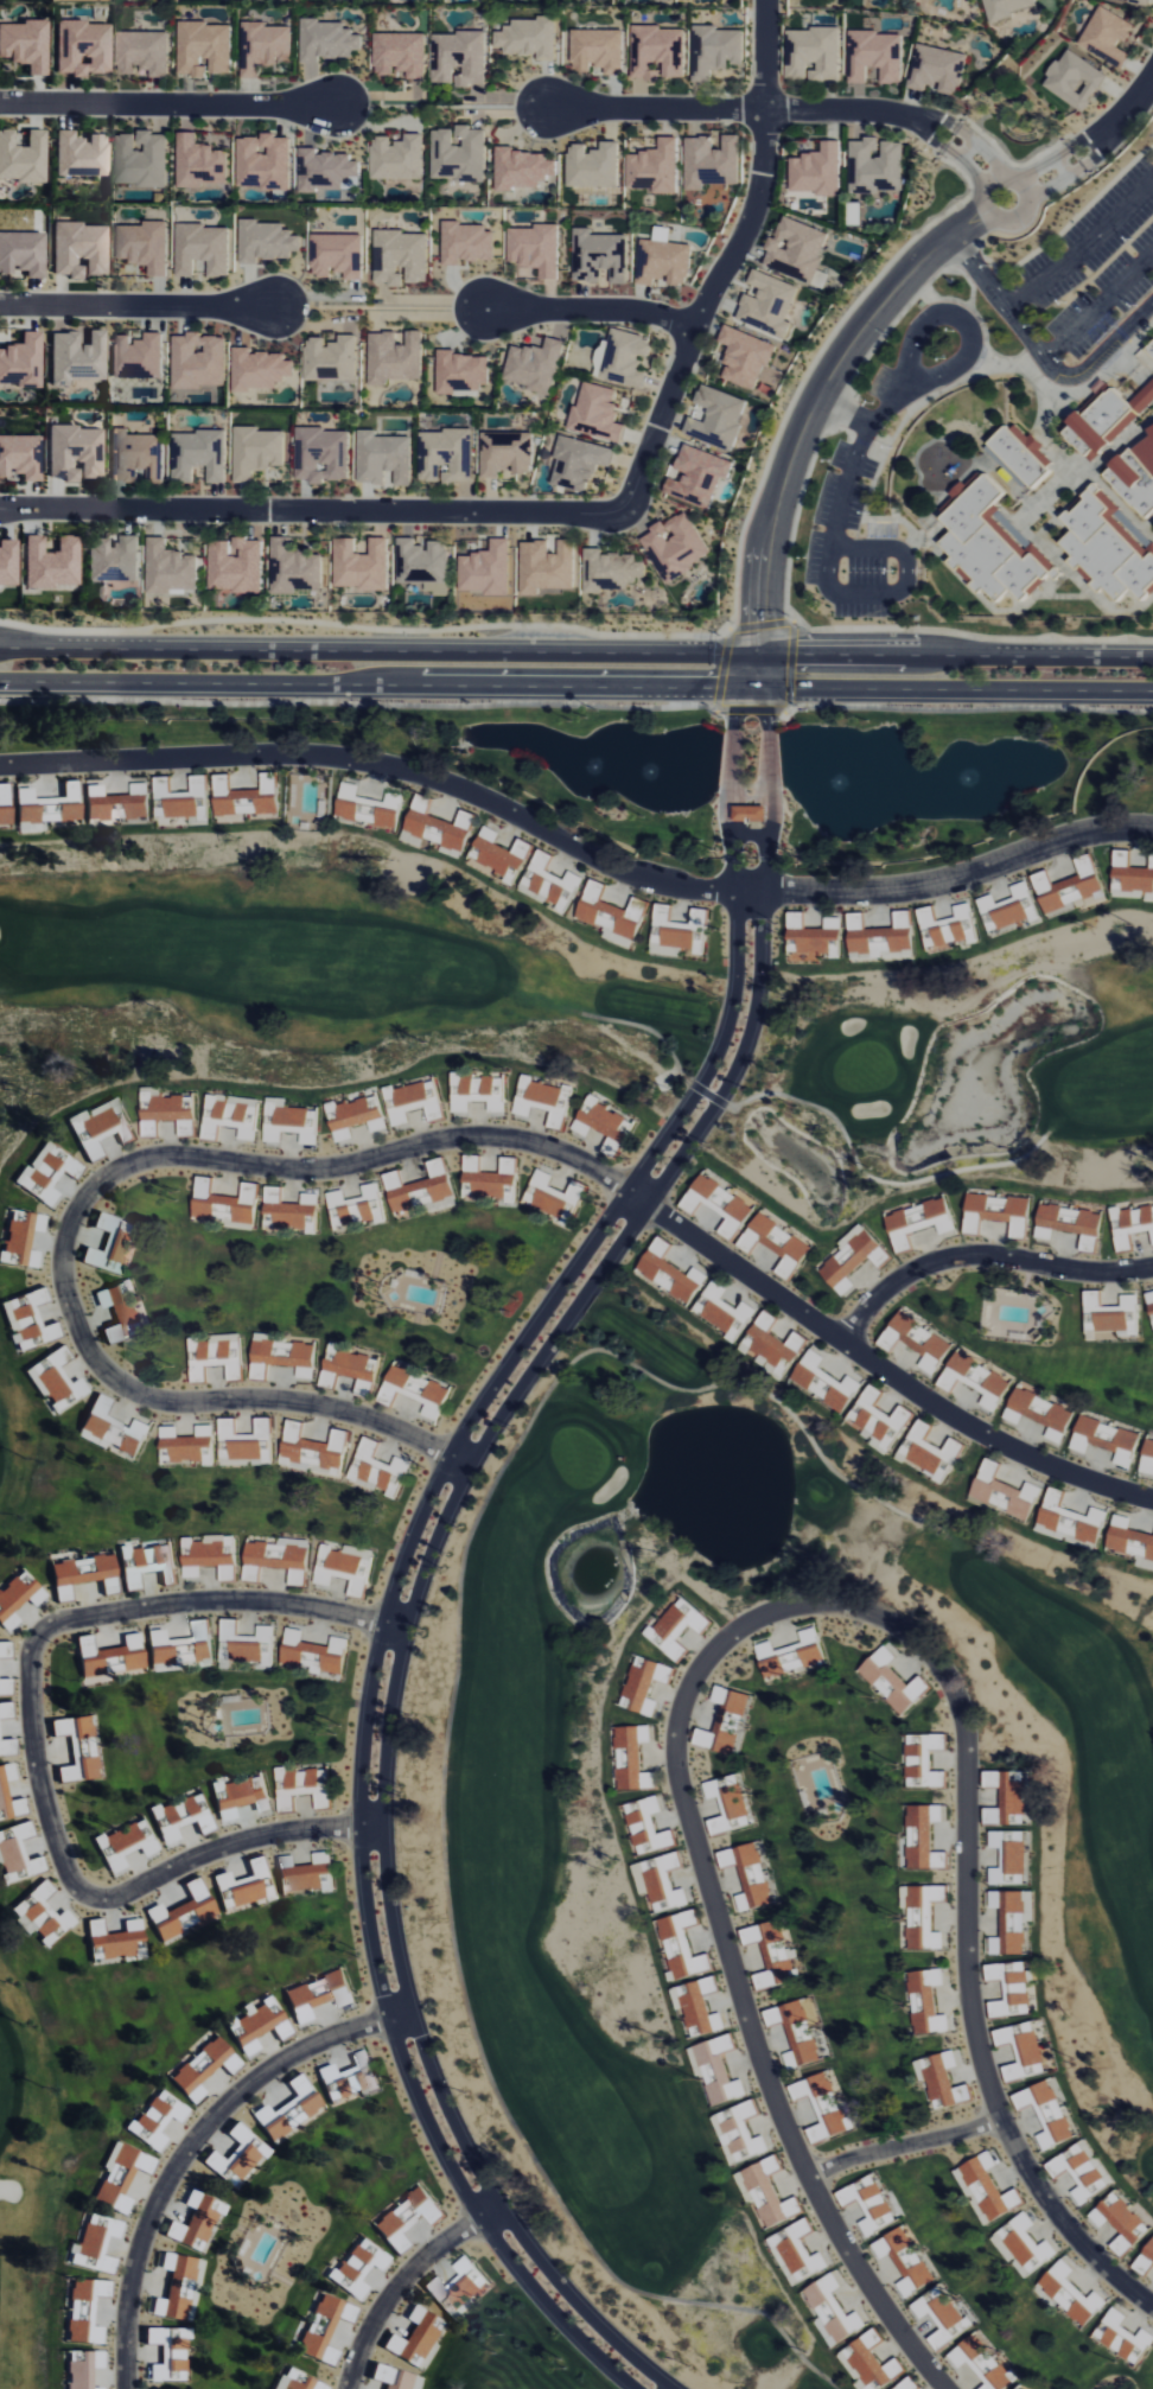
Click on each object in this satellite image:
building: (1138, 1)
building: (1008, 7)
building: (1107, 37)
building: (529, 39)
building: (327, 40)
building: (24, 45)
building: (265, 47)
building: (81, 49)
building: (204, 49)
building: (597, 51)
building: (715, 51)
building: (657, 52)
building: (142, 53)
building: (400, 55)
road: (765, 55)
building: (813, 55)
building: (875, 57)
building: (459, 58)
building: (937, 70)
building: (1074, 81)
road: (167, 103)
road: (783, 109)
road: (1119, 121)
park: (1145, 142)
building: (79, 155)
building: (459, 155)
building: (21, 158)
building: (397, 158)
building: (139, 160)
building: (263, 163)
building: (712, 163)
building: (199, 165)
building: (593, 166)
building: (875, 167)
building: (524, 168)
building: (655, 168)
building: (325, 171)
building: (816, 171)
road: (1050, 173)
road: (986, 210)
road: (1079, 241)
building: (266, 242)
building: (465, 243)
building: (144, 247)
building: (535, 249)
building: (796, 249)
building: (78, 250)
building: (202, 250)
building: (21, 254)
building: (337, 256)
building: (599, 256)
building: (663, 260)
road: (979, 270)
road: (434, 298)
road: (1097, 304)
building: (769, 305)
road: (139, 306)
road: (592, 310)
building: (1151, 350)
road: (911, 353)
building: (136, 357)
building: (745, 357)
building: (76, 358)
building: (394, 358)
building: (622, 358)
building: (330, 359)
building: (20, 362)
building: (198, 362)
building: (534, 365)
building: (259, 370)
building: (461, 374)
road: (1075, 374)
road: (816, 401)
building: (595, 414)
building: (718, 419)
building: (1106, 421)
road: (867, 425)
building: (256, 452)
building: (74, 453)
building: (507, 454)
building: (198, 455)
building: (323, 455)
building: (134, 457)
building: (446, 457)
building: (1019, 457)
building: (19, 458)
building: (383, 459)
building: (578, 464)
building: (1135, 476)
building: (699, 477)
road: (527, 514)
building: (990, 544)
building: (676, 546)
building: (1108, 547)
building: (112, 560)
building: (7, 563)
building: (50, 563)
building: (359, 566)
building: (422, 566)
building: (235, 567)
building: (547, 567)
building: (168, 569)
building: (293, 569)
building: (486, 571)
building: (610, 572)
road: (834, 593)
road: (377, 649)
road: (954, 656)
road: (753, 668)
road: (375, 683)
road: (951, 686)
building: (244, 797)
building: (181, 801)
building: (116, 803)
building: (4, 804)
building: (368, 808)
building: (45, 809)
building: (749, 813)
building: (435, 826)
road: (576, 843)
building: (497, 852)
building: (511, 875)
building: (549, 883)
building: (1069, 886)
building: (1008, 909)
building: (611, 915)
building: (947, 928)
building: (677, 932)
building: (810, 937)
building: (879, 937)
park: (306, 976)
park: (949, 1075)
building: (476, 1092)
building: (542, 1101)
building: (413, 1102)
building: (166, 1113)
building: (231, 1116)
building: (355, 1116)
building: (291, 1122)
building: (600, 1123)
building: (98, 1127)
building: (46, 1172)
building: (486, 1179)
road: (93, 1187)
building: (418, 1189)
building: (550, 1196)
building: (224, 1203)
building: (719, 1203)
building: (355, 1209)
building: (287, 1211)
building: (996, 1213)
building: (918, 1222)
building: (1069, 1224)
building: (1130, 1225)
building: (21, 1241)
building: (110, 1243)
building: (775, 1244)
road: (983, 1254)
building: (853, 1259)
building: (669, 1273)
building: (1149, 1305)
building: (722, 1312)
building: (119, 1313)
building: (1110, 1315)
building: (27, 1320)
building: (916, 1342)
building: (771, 1346)
building: (215, 1356)
building: (281, 1356)
building: (350, 1369)
road: (888, 1370)
building: (56, 1381)
building: (824, 1381)
building: (975, 1381)
building: (414, 1391)
building: (1039, 1414)
building: (877, 1420)
building: (110, 1429)
building: (1106, 1440)
building: (242, 1442)
building: (186, 1446)
building: (313, 1451)
building: (929, 1452)
building: (1147, 1458)
building: (377, 1470)
park: (148, 1493)
building: (1002, 1493)
building: (1069, 1521)
road: (410, 1533)
road: (433, 1540)
building: (1128, 1540)
building: (209, 1556)
building: (278, 1559)
building: (146, 1565)
building: (344, 1567)
building: (82, 1575)
building: (17, 1598)
building: (677, 1627)
building: (180, 1646)
building: (246, 1646)
building: (5, 1650)
building: (313, 1654)
building: (790, 1655)
building: (109, 1656)
building: (892, 1681)
building: (644, 1686)
building: (5, 1687)
building: (5, 1710)
building: (724, 1722)
road: (32, 1739)
building: (6, 1747)
building: (78, 1748)
building: (631, 1758)
building: (923, 1760)
building: (301, 1788)
building: (2, 1790)
building: (1007, 1796)
building: (240, 1797)
building: (727, 1804)
building: (179, 1817)
building: (646, 1827)
building: (924, 1837)
building: (125, 1845)
building: (15, 1855)
building: (1008, 1855)
park: (510, 1864)
building: (302, 1874)
building: (749, 1877)
building: (660, 1882)
building: (241, 1886)
building: (183, 1913)
building: (40, 1916)
building: (922, 1916)
building: (1011, 1920)
building: (112, 1939)
building: (681, 1947)
building: (771, 1954)
road: (964, 1958)
road: (728, 1966)
building: (1009, 1989)
building: (318, 1995)
building: (925, 2002)
building: (697, 2007)
building: (796, 2031)
building: (249, 2049)
building: (1021, 2051)
building: (199, 2070)
building: (715, 2070)
park: (110, 2078)
building: (348, 2079)
building: (941, 2081)
building: (822, 2107)
building: (288, 2111)
building: (1046, 2113)
building: (157, 2120)
building: (738, 2134)
road: (902, 2140)
road: (191, 2143)
building: (237, 2155)
building: (1081, 2171)
building: (120, 2177)
building: (985, 2190)
building: (766, 2193)
building: (868, 2204)
building: (406, 2218)
building: (196, 2222)
building: (1120, 2223)
building: (95, 2244)
building: (1021, 2247)
building: (796, 2251)
building: (1145, 2260)
building: (904, 2262)
building: (358, 2269)
road: (401, 2280)
building: (176, 2287)
building: (458, 2287)
building: (1070, 2295)
building: (830, 2310)
building: (84, 2311)
building: (941, 2317)
building: (324, 2329)
building: (414, 2338)
building: (1122, 2338)
park: (512, 2351)
building: (168, 2353)
building: (980, 2363)
building: (868, 2364)
building: (81, 2369)
building: (394, 2378)
building: (297, 2381)
building: (907, 2384)
building: (1018, 2388)

